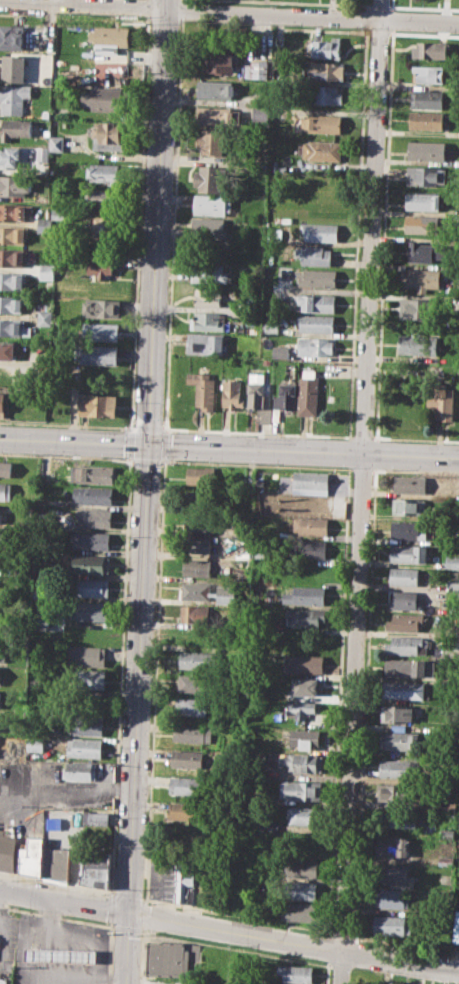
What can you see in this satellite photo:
road: (182, 0)
road: (56, 1)
road: (147, 8)
road: (181, 10)
road: (230, 11)
building: (110, 35)
building: (14, 37)
building: (328, 48)
building: (429, 50)
building: (218, 58)
building: (15, 68)
building: (256, 68)
building: (325, 70)
building: (428, 73)
building: (215, 88)
building: (323, 94)
building: (14, 98)
building: (105, 99)
building: (426, 99)
building: (260, 112)
building: (214, 114)
building: (425, 120)
building: (321, 123)
building: (15, 129)
building: (109, 131)
building: (211, 140)
building: (57, 143)
building: (426, 150)
building: (322, 151)
building: (41, 153)
building: (11, 156)
building: (42, 167)
building: (103, 172)
building: (426, 176)
building: (210, 178)
building: (14, 185)
building: (322, 186)
building: (101, 198)
building: (422, 201)
building: (211, 204)
building: (15, 211)
building: (57, 214)
road: (139, 222)
building: (42, 224)
building: (421, 224)
road: (172, 225)
building: (104, 226)
building: (209, 228)
building: (320, 231)
building: (14, 234)
building: (421, 252)
building: (313, 255)
building: (12, 257)
building: (101, 266)
building: (47, 271)
building: (208, 273)
building: (317, 278)
building: (420, 279)
building: (12, 281)
building: (212, 297)
building: (316, 302)
building: (11, 304)
building: (101, 307)
building: (419, 307)
building: (45, 317)
building: (209, 321)
building: (315, 324)
building: (14, 328)
building: (101, 331)
building: (206, 342)
building: (418, 345)
building: (315, 347)
building: (7, 351)
building: (280, 351)
building: (99, 354)
building: (7, 374)
building: (203, 388)
building: (232, 394)
building: (258, 395)
building: (308, 395)
building: (284, 399)
building: (441, 402)
building: (3, 404)
building: (97, 404)
road: (67, 424)
road: (132, 427)
road: (147, 427)
road: (256, 432)
road: (361, 436)
road: (415, 439)
road: (130, 443)
traffic signals: (149, 444)
road: (165, 444)
road: (229, 447)
street lamp: (36, 454)
road: (65, 456)
street lamp: (103, 456)
road: (146, 459)
road: (164, 459)
street lamp: (184, 460)
street lamp: (256, 463)
street lamp: (344, 466)
street lamp: (393, 468)
building: (6, 469)
building: (92, 474)
building: (202, 477)
building: (309, 482)
building: (410, 484)
building: (6, 491)
road: (362, 491)
road: (147, 492)
building: (92, 495)
building: (201, 500)
building: (409, 505)
building: (0, 513)
building: (93, 517)
building: (199, 523)
building: (309, 526)
building: (409, 529)
building: (2, 536)
street lamp: (129, 536)
building: (90, 540)
building: (197, 544)
building: (308, 548)
building: (408, 553)
building: (3, 559)
building: (452, 562)
building: (90, 564)
building: (196, 566)
building: (21, 572)
building: (403, 576)
building: (90, 587)
building: (209, 592)
building: (305, 595)
building: (403, 599)
street lamp: (126, 603)
building: (1, 606)
road: (342, 609)
building: (90, 610)
building: (195, 613)
building: (305, 616)
building: (404, 622)
building: (408, 644)
building: (2, 652)
building: (86, 655)
building: (198, 659)
building: (303, 662)
building: (404, 668)
building: (428, 668)
road: (120, 676)
street lamp: (123, 676)
building: (1, 678)
building: (86, 679)
road: (154, 679)
building: (195, 682)
building: (307, 686)
building: (402, 689)
building: (0, 697)
building: (192, 706)
building: (301, 708)
building: (397, 713)
building: (85, 724)
building: (193, 733)
building: (305, 738)
building: (400, 740)
building: (35, 743)
street lamp: (120, 747)
building: (84, 748)
building: (187, 758)
building: (303, 762)
building: (396, 769)
building: (80, 770)
building: (186, 784)
building: (300, 790)
building: (394, 792)
building: (185, 810)
building: (304, 816)
building: (96, 817)
street lamp: (117, 817)
building: (403, 820)
building: (185, 838)
building: (394, 845)
building: (8, 851)
building: (32, 857)
building: (55, 863)
building: (88, 867)
building: (301, 867)
building: (392, 872)
street lamp: (32, 882)
road: (56, 883)
building: (184, 886)
building: (248, 888)
street lamp: (113, 890)
building: (301, 890)
road: (126, 896)
building: (391, 898)
road: (144, 899)
road: (111, 908)
building: (299, 912)
road: (237, 914)
road: (56, 916)
road: (144, 916)
road: (0, 920)
building: (392, 925)
building: (455, 927)
road: (125, 929)
road: (229, 930)
street lamp: (112, 932)
parking lot: (7, 945)
road: (233, 948)
road: (330, 948)
parking lot: (61, 951)
road: (108, 952)
building: (62, 955)
gas station: (62, 955)
road: (143, 956)
building: (169, 957)
road: (326, 972)
building: (296, 974)

